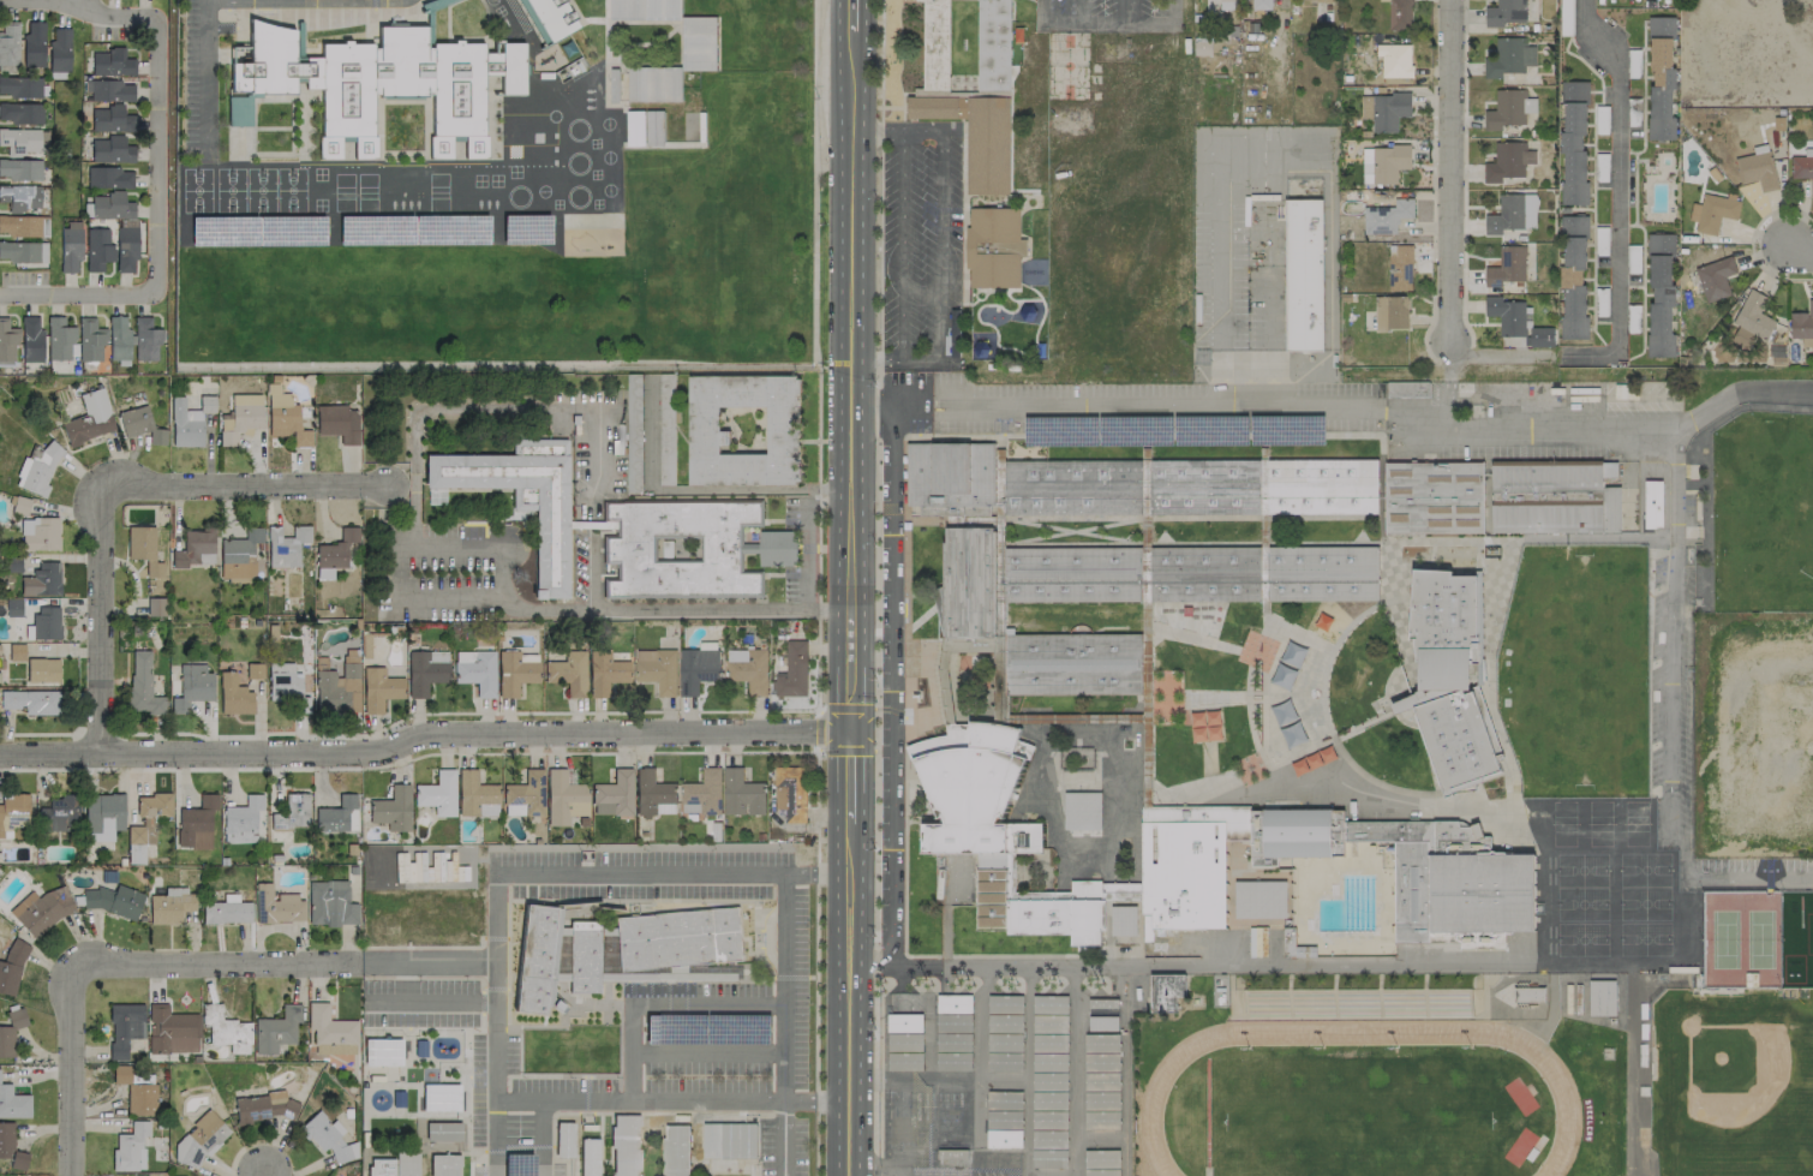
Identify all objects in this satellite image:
building: (1315, 0)
road: (1282, 2)
road: (82, 5)
building: (1227, 5)
building: (1261, 5)
building: (644, 10)
road: (1041, 10)
road: (1173, 10)
road: (1078, 11)
road: (1130, 11)
building: (1506, 12)
building: (1399, 14)
parking lot: (1113, 17)
building: (551, 18)
road: (1107, 22)
building: (699, 43)
building: (992, 43)
building: (32, 44)
building: (933, 44)
building: (8, 47)
building: (1202, 48)
building: (59, 50)
building: (1508, 58)
building: (1394, 60)
building: (112, 62)
road: (880, 65)
park: (1065, 66)
road: (203, 74)
building: (1661, 78)
building: (379, 82)
building: (653, 84)
building: (20, 86)
building: (108, 90)
building: (1365, 107)
building: (1506, 109)
building: (1389, 111)
building: (20, 112)
building: (110, 119)
building: (973, 133)
building: (20, 141)
building: (1573, 144)
building: (110, 149)
road: (156, 154)
building: (1507, 162)
building: (1383, 163)
building: (19, 168)
road: (1616, 168)
road: (1448, 169)
building: (1802, 169)
building: (1757, 171)
building: (109, 177)
building: (19, 197)
road: (852, 204)
building: (110, 205)
road: (940, 209)
building: (1712, 213)
building: (1512, 214)
building: (1386, 216)
road: (1217, 217)
road: (814, 223)
building: (19, 225)
road: (939, 227)
road: (959, 237)
parking lot: (921, 243)
road: (937, 244)
building: (97, 247)
building: (126, 247)
building: (969, 247)
building: (70, 249)
building: (23, 251)
road: (1799, 252)
park: (535, 264)
building: (1506, 267)
building: (1399, 268)
building: (1303, 275)
building: (1573, 277)
building: (1715, 279)
road: (1268, 294)
building: (1661, 296)
building: (1390, 314)
building: (1506, 316)
road: (878, 320)
building: (1751, 321)
building: (1802, 326)
building: (1540, 336)
building: (30, 339)
building: (58, 339)
building: (90, 339)
building: (118, 339)
building: (145, 340)
building: (7, 342)
building: (207, 404)
road: (1243, 406)
road: (1033, 407)
building: (285, 417)
building: (89, 418)
building: (240, 418)
road: (1396, 418)
building: (337, 423)
building: (139, 424)
building: (185, 424)
road: (1633, 428)
building: (743, 430)
road: (850, 450)
road: (816, 453)
building: (37, 468)
building: (949, 473)
road: (400, 484)
building: (1203, 486)
building: (1321, 486)
road: (1676, 486)
road: (116, 488)
building: (1071, 488)
road: (696, 489)
building: (521, 497)
building: (1434, 497)
building: (1554, 497)
park: (1755, 500)
building: (19, 505)
building: (1652, 505)
road: (891, 507)
building: (38, 533)
road: (473, 543)
road: (891, 543)
building: (286, 545)
building: (143, 548)
building: (192, 548)
building: (681, 549)
building: (778, 549)
road: (808, 549)
building: (334, 553)
building: (239, 554)
building: (1203, 573)
building: (1321, 573)
building: (1071, 574)
building: (42, 580)
building: (969, 581)
road: (395, 585)
building: (155, 607)
road: (874, 607)
road: (849, 613)
building: (44, 622)
building: (16, 651)
building: (1145, 651)
park: (1563, 661)
building: (1071, 663)
building: (1287, 665)
building: (42, 669)
building: (696, 669)
building: (748, 669)
building: (255, 670)
building: (425, 670)
building: (475, 670)
building: (657, 670)
building: (514, 671)
building: (605, 671)
building: (792, 671)
building: (568, 673)
building: (1448, 677)
building: (283, 682)
building: (142, 683)
building: (192, 687)
building: (378, 688)
building: (337, 690)
building: (233, 694)
building: (30, 702)
road: (844, 709)
road: (888, 710)
road: (843, 727)
building: (1205, 727)
road: (874, 730)
road: (844, 732)
road: (423, 734)
building: (1292, 735)
road: (824, 752)
road: (519, 753)
road: (1673, 776)
building: (969, 778)
road: (848, 782)
building: (437, 793)
building: (790, 793)
building: (614, 794)
building: (702, 794)
building: (742, 794)
building: (475, 795)
building: (525, 795)
building: (653, 795)
building: (563, 798)
building: (391, 808)
building: (103, 811)
building: (293, 811)
building: (1082, 811)
building: (12, 812)
building: (59, 814)
building: (337, 816)
building: (241, 819)
road: (892, 822)
building: (196, 823)
building: (145, 825)
building: (1303, 832)
building: (1257, 842)
park: (1634, 861)
park: (1569, 862)
building: (1185, 865)
road: (556, 872)
road: (830, 873)
building: (1452, 879)
road: (672, 899)
building: (1259, 900)
park: (1634, 900)
building: (114, 901)
park: (1572, 901)
building: (330, 903)
building: (276, 905)
building: (169, 907)
building: (41, 911)
building: (226, 912)
road: (507, 918)
building: (1123, 921)
park: (1712, 927)
park: (1752, 929)
park: (1572, 932)
park: (1634, 935)
road: (493, 937)
building: (677, 937)
building: (1446, 938)
road: (425, 947)
building: (581, 954)
building: (535, 959)
road: (427, 961)
road: (113, 963)
road: (873, 963)
road: (1270, 963)
road: (1043, 966)
building: (11, 967)
road: (892, 967)
road: (426, 977)
road: (794, 977)
road: (780, 987)
road: (493, 989)
building: (1165, 992)
road: (426, 993)
building: (1345, 993)
road: (480, 1002)
road: (658, 1004)
road: (848, 1004)
building: (953, 1004)
building: (1005, 1004)
building: (1049, 1004)
building: (904, 1023)
building: (329, 1026)
building: (124, 1027)
road: (413, 1027)
parking lot: (693, 1028)
building: (170, 1029)
building: (226, 1029)
building: (276, 1029)
building: (10, 1031)
road: (408, 1044)
park: (568, 1049)
building: (379, 1050)
road: (420, 1062)
building: (1003, 1062)
road: (815, 1076)
road: (453, 1079)
park: (1731, 1082)
road: (401, 1084)
building: (136, 1090)
road: (463, 1092)
building: (439, 1096)
road: (652, 1100)
building: (13, 1103)
road: (828, 1104)
building: (263, 1108)
park: (1347, 1109)
building: (1101, 1120)
road: (495, 1123)
building: (442, 1129)
building: (328, 1138)
building: (199, 1139)
road: (779, 1139)
building: (1000, 1139)
building: (729, 1141)
building: (10, 1146)
building: (623, 1146)
building: (130, 1147)
parking lot: (780, 1147)
road: (467, 1151)
building: (675, 1151)
building: (588, 1157)
building: (406, 1163)
road: (459, 1163)
building: (442, 1164)
road: (468, 1164)
road: (870, 1164)
building: (379, 1166)
parking lot: (519, 1169)
road: (896, 1170)
road: (263, 1172)

